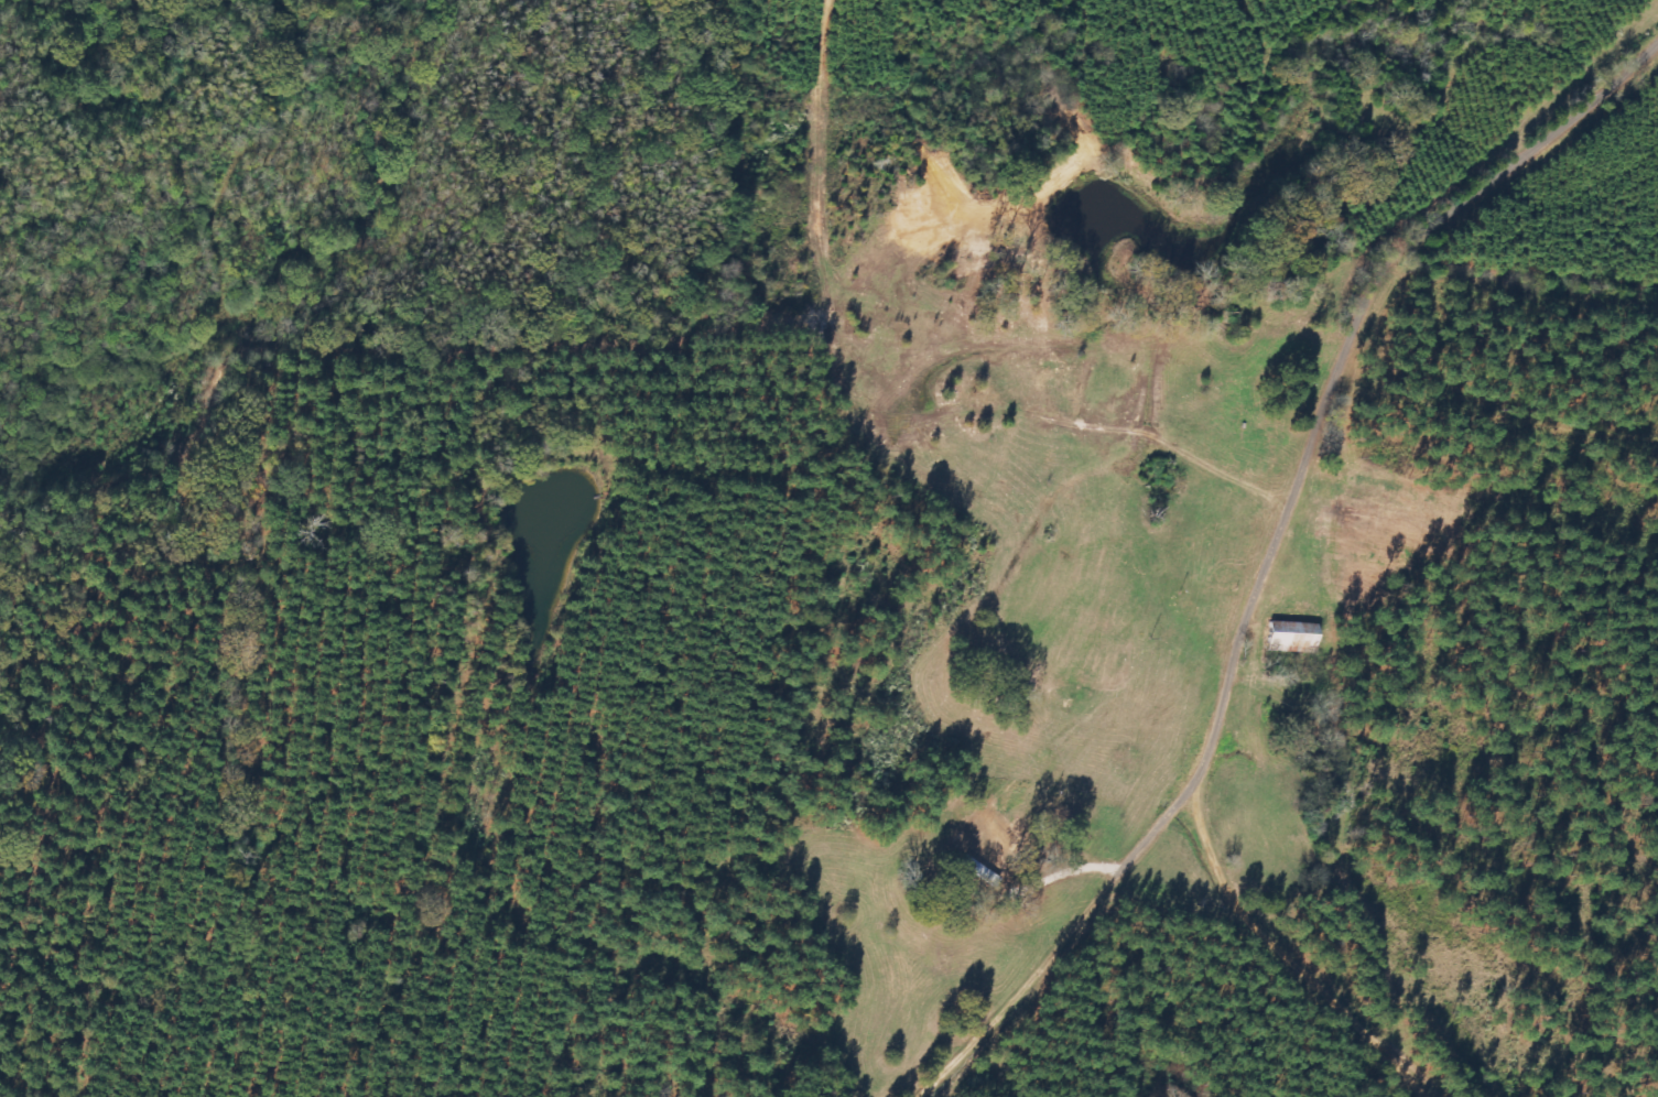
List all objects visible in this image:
building: (1294, 640)

